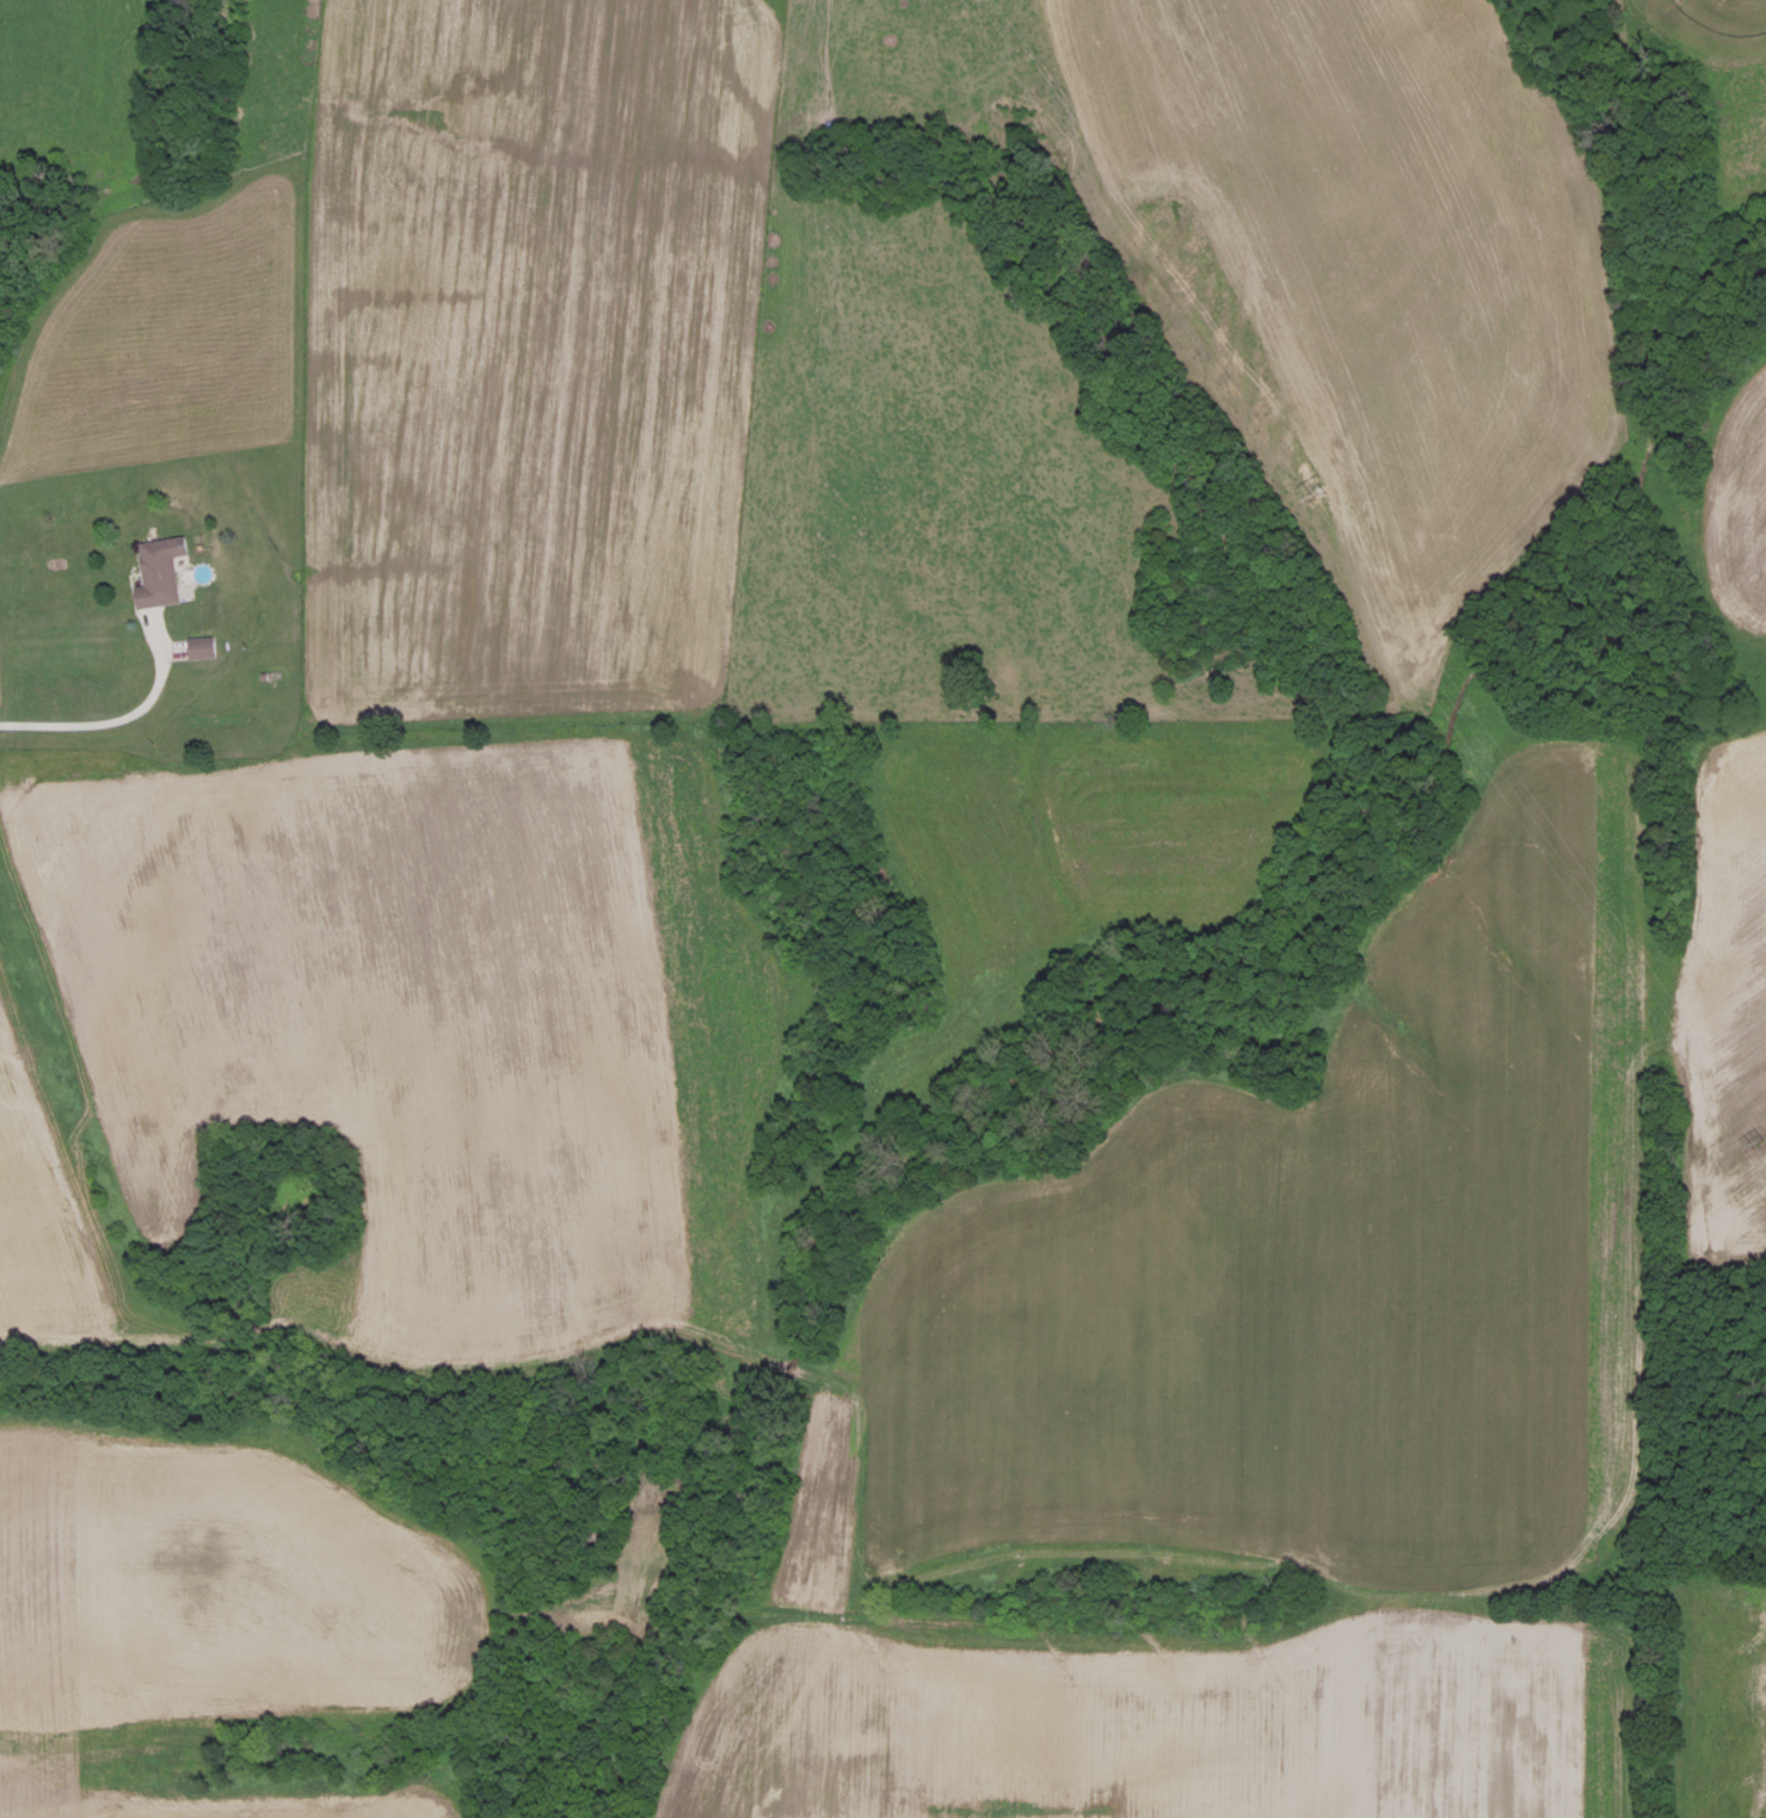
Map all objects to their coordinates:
building: (159, 569)
building: (199, 646)
road: (121, 719)

